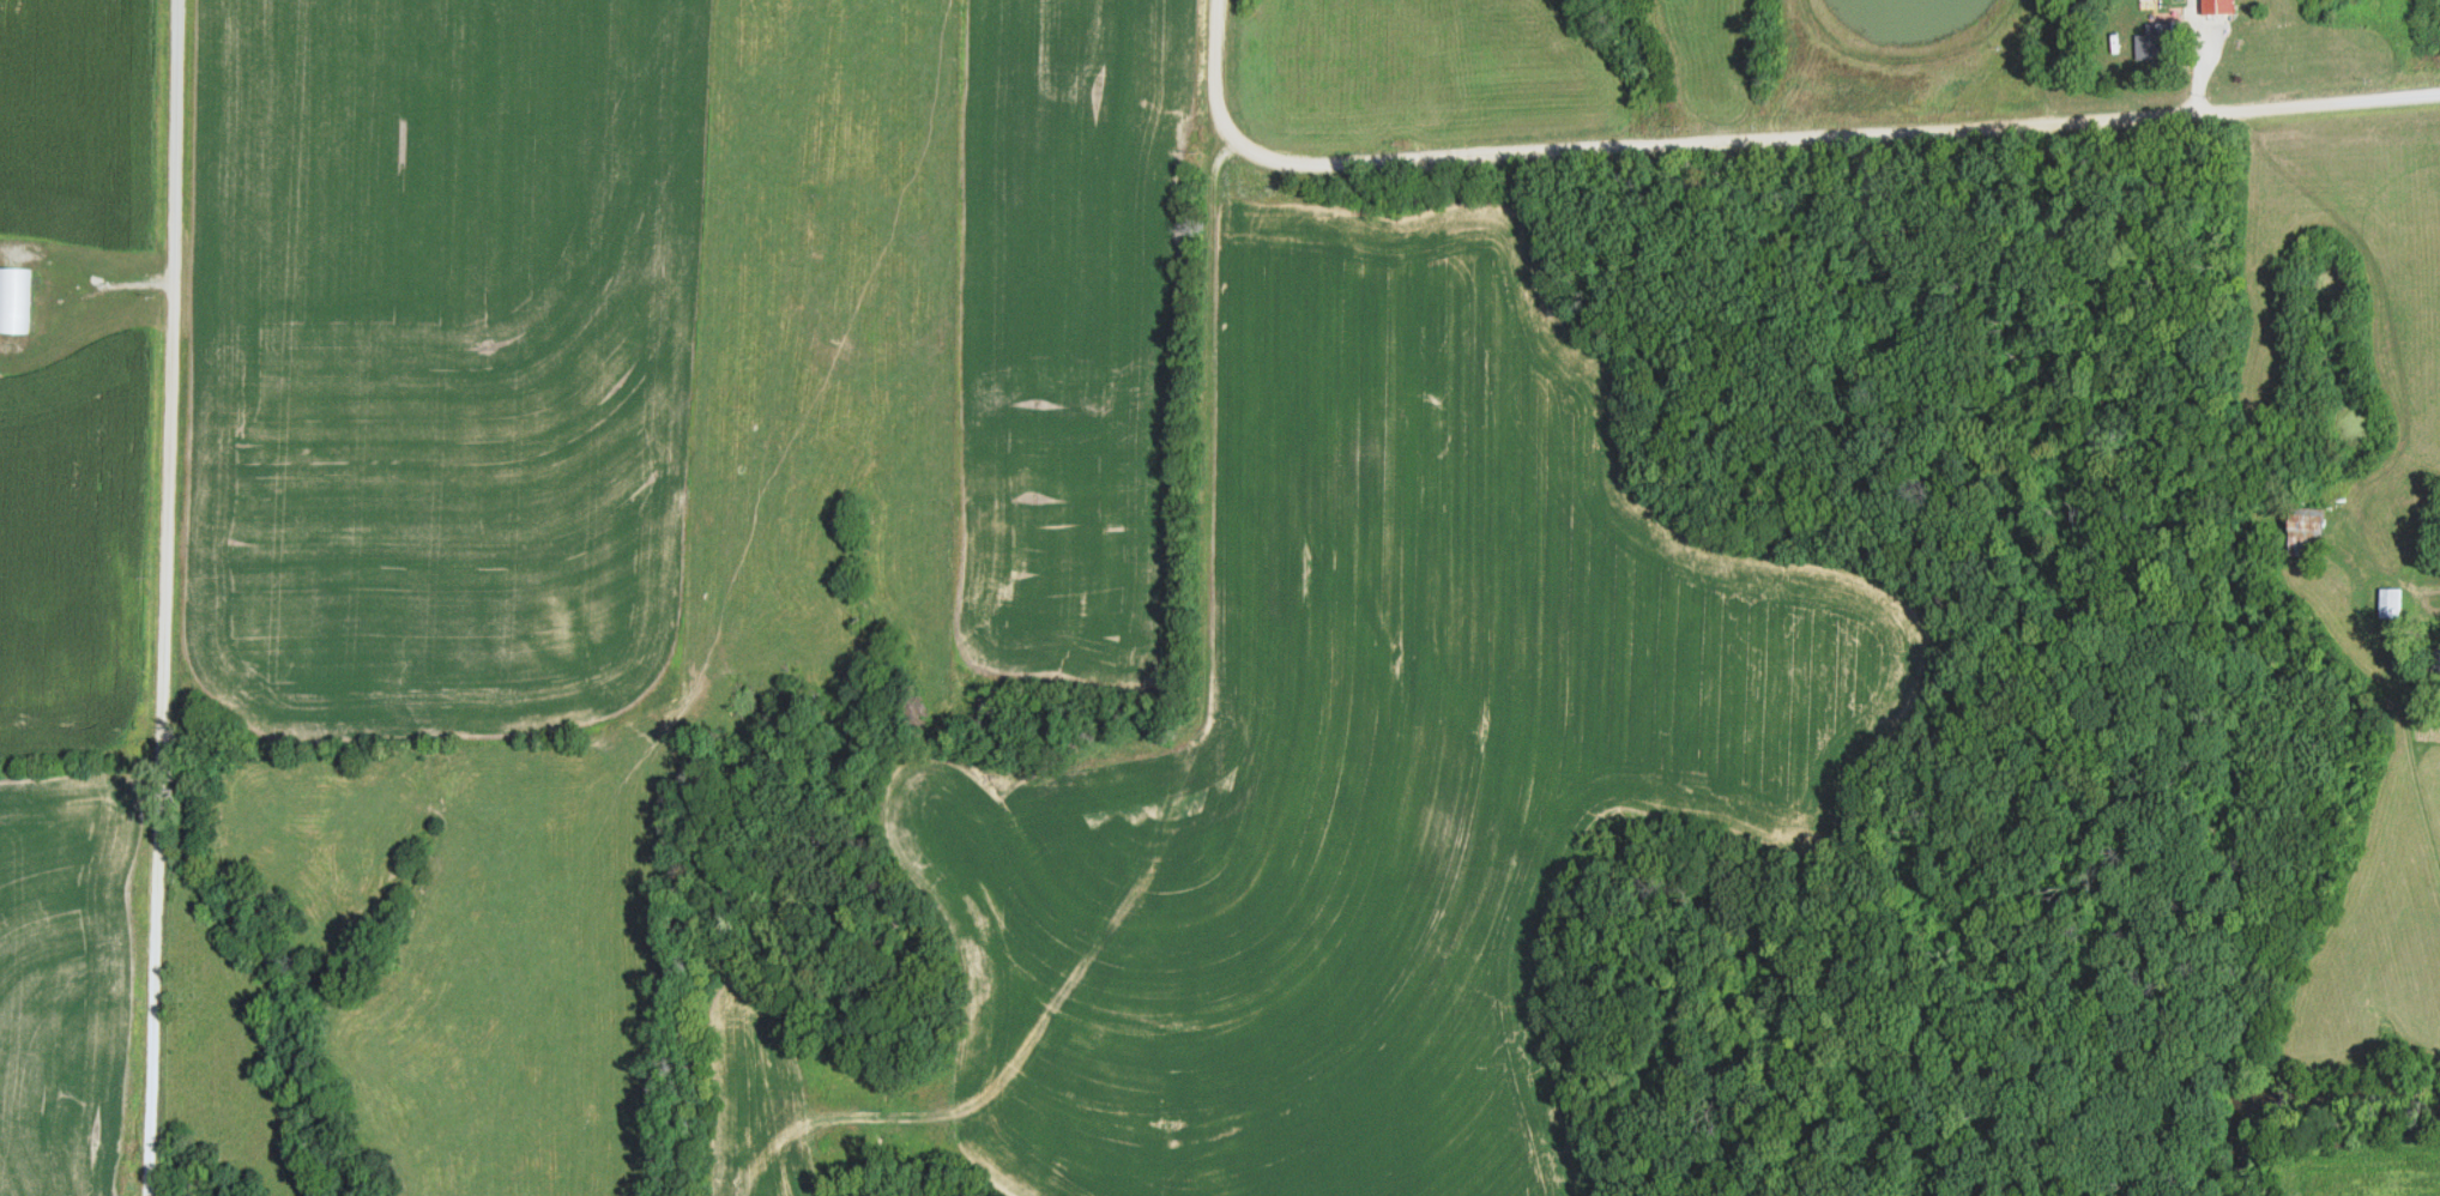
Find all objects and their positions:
building: (2218, 7)
building: (2154, 42)
road: (1762, 137)
building: (6, 295)
building: (2308, 524)
road: (2428, 587)
road: (161, 597)
building: (2390, 603)
road: (1191, 628)
building: (2436, 660)

